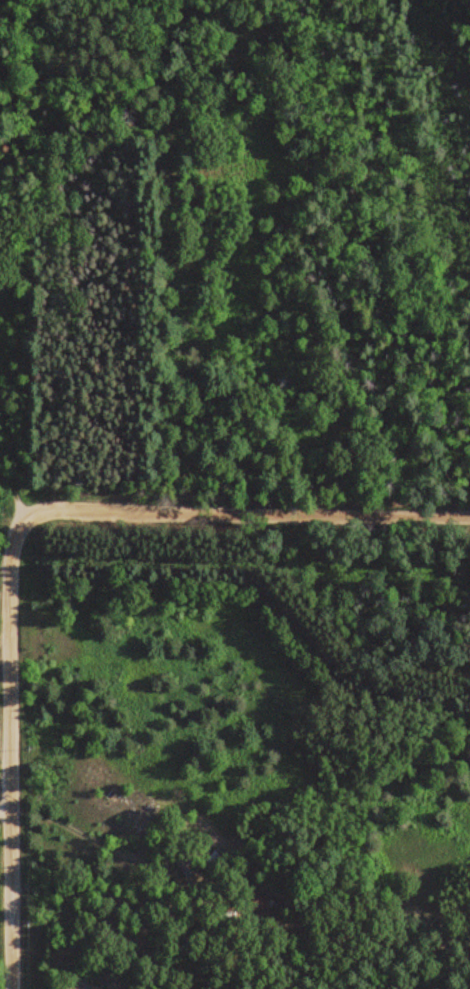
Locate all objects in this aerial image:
road: (244, 516)
road: (9, 521)
road: (10, 754)
road: (5, 810)
building: (259, 901)

